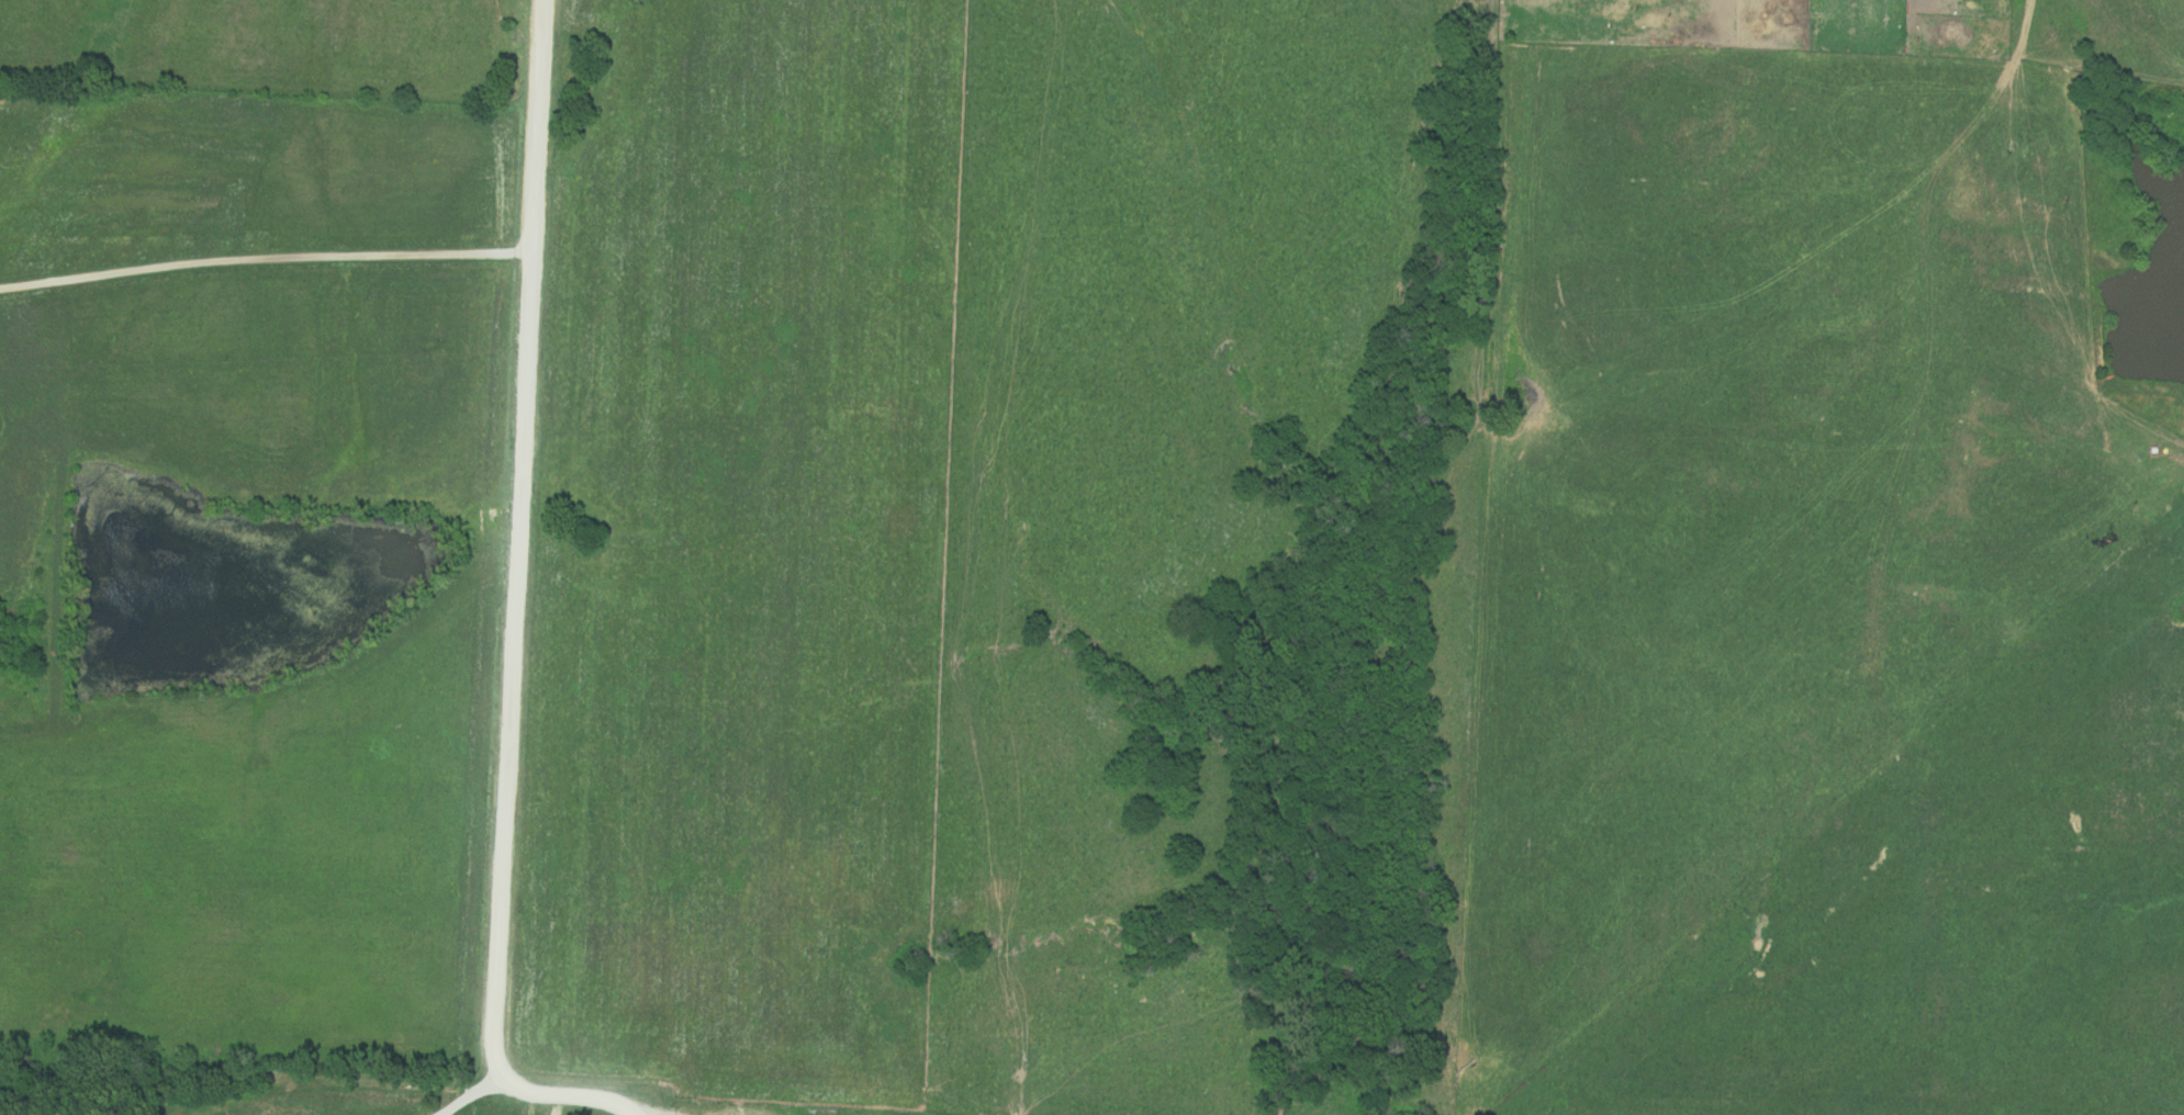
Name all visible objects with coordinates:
road: (265, 262)
road: (516, 611)
road: (401, 1105)

